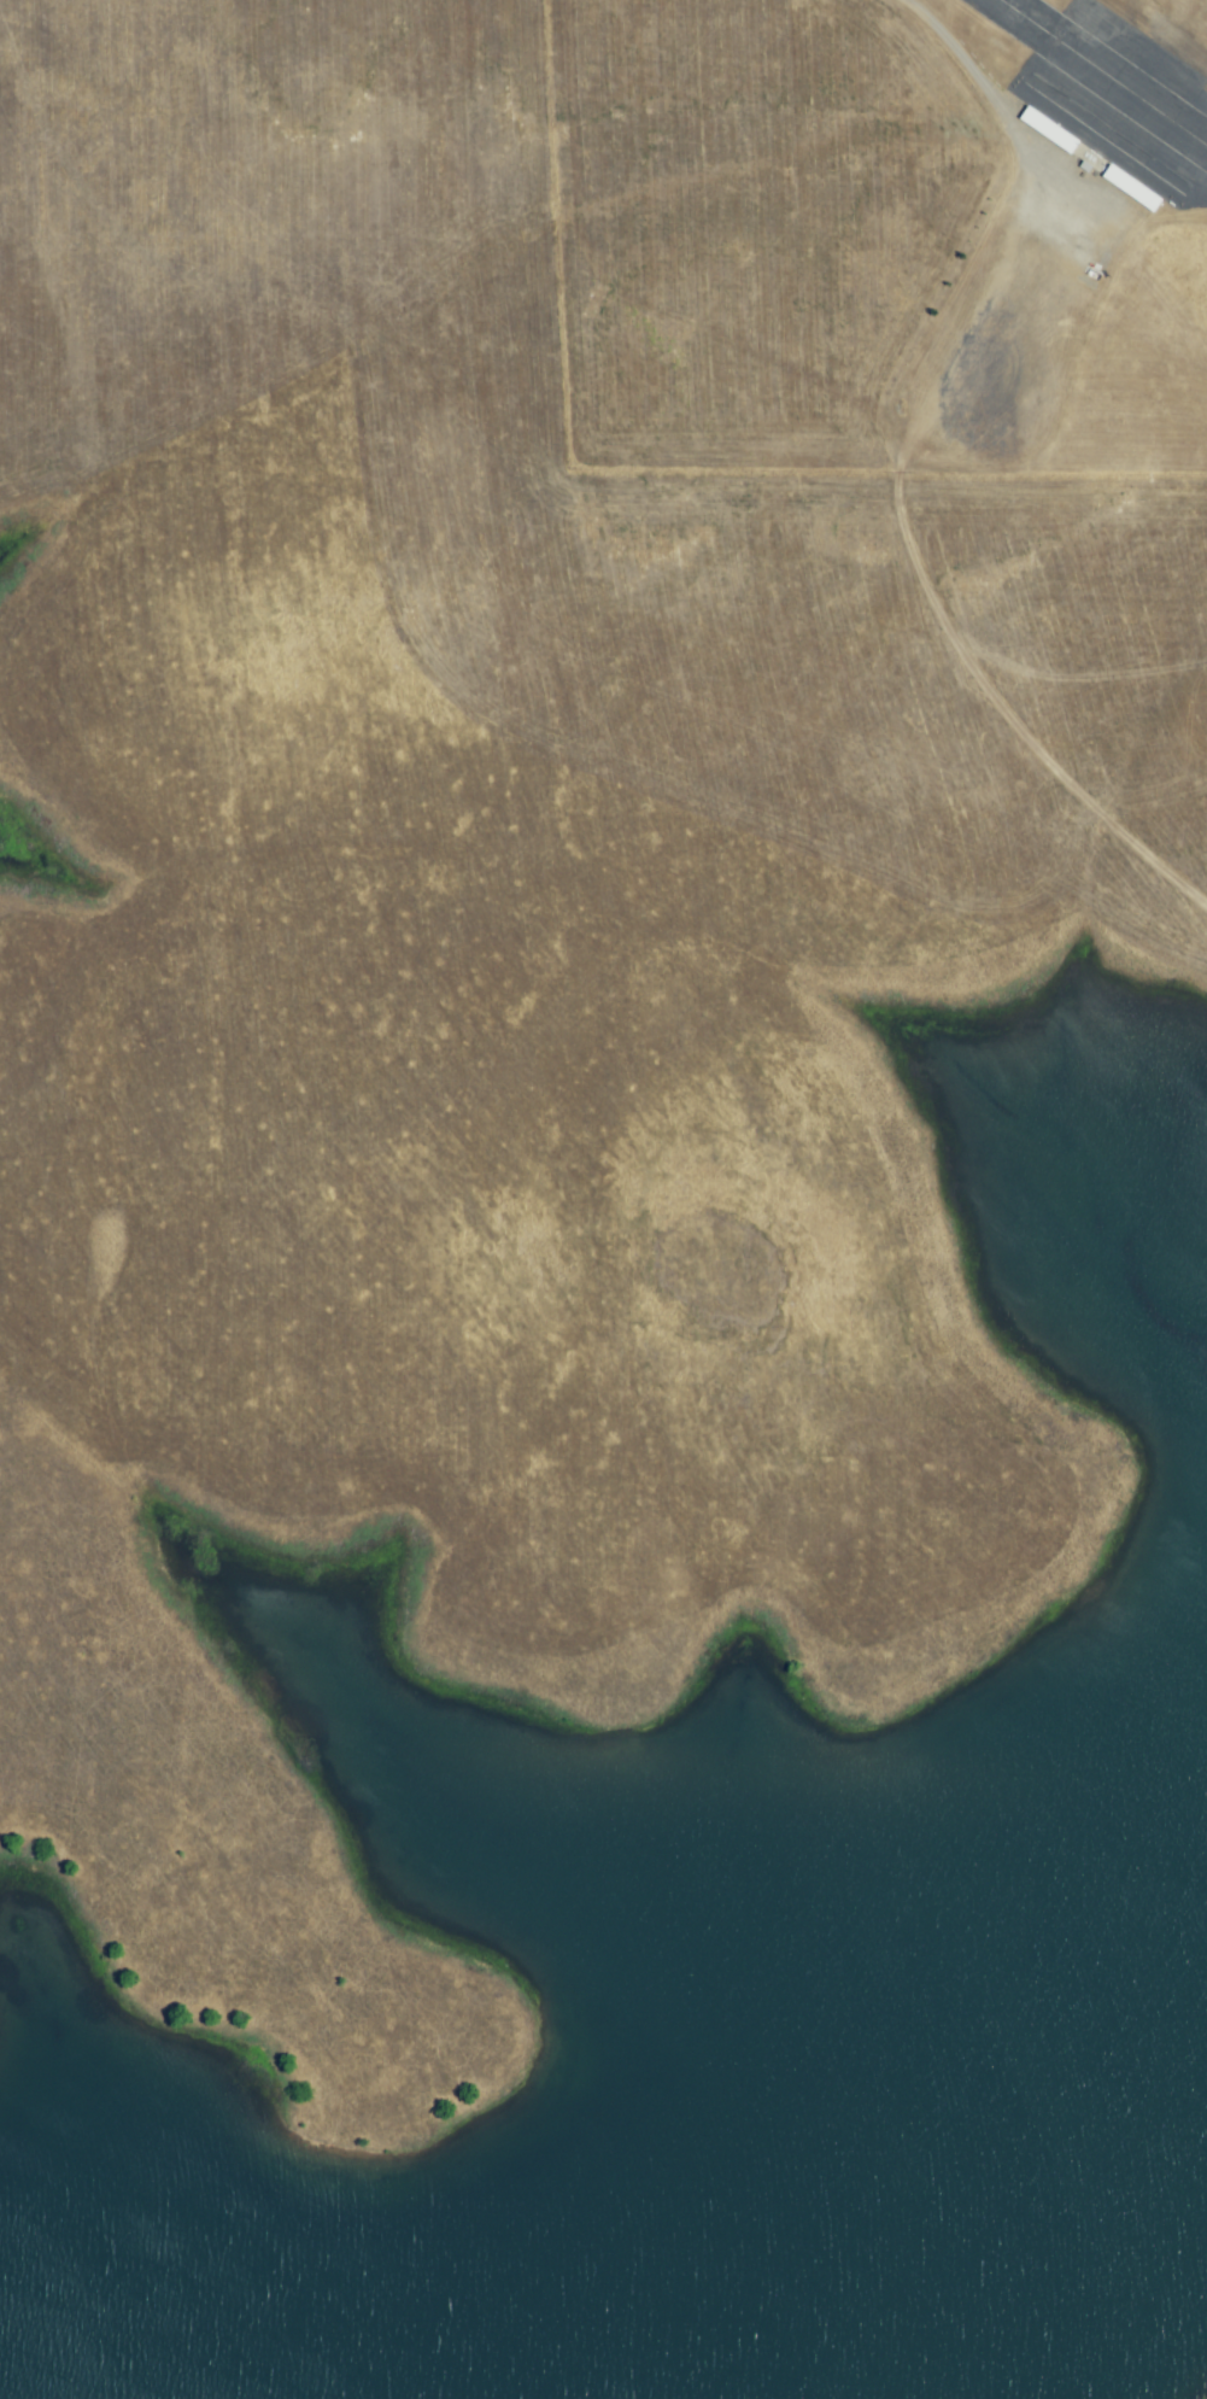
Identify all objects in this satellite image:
road: (996, 98)
building: (1049, 129)
building: (1131, 187)

